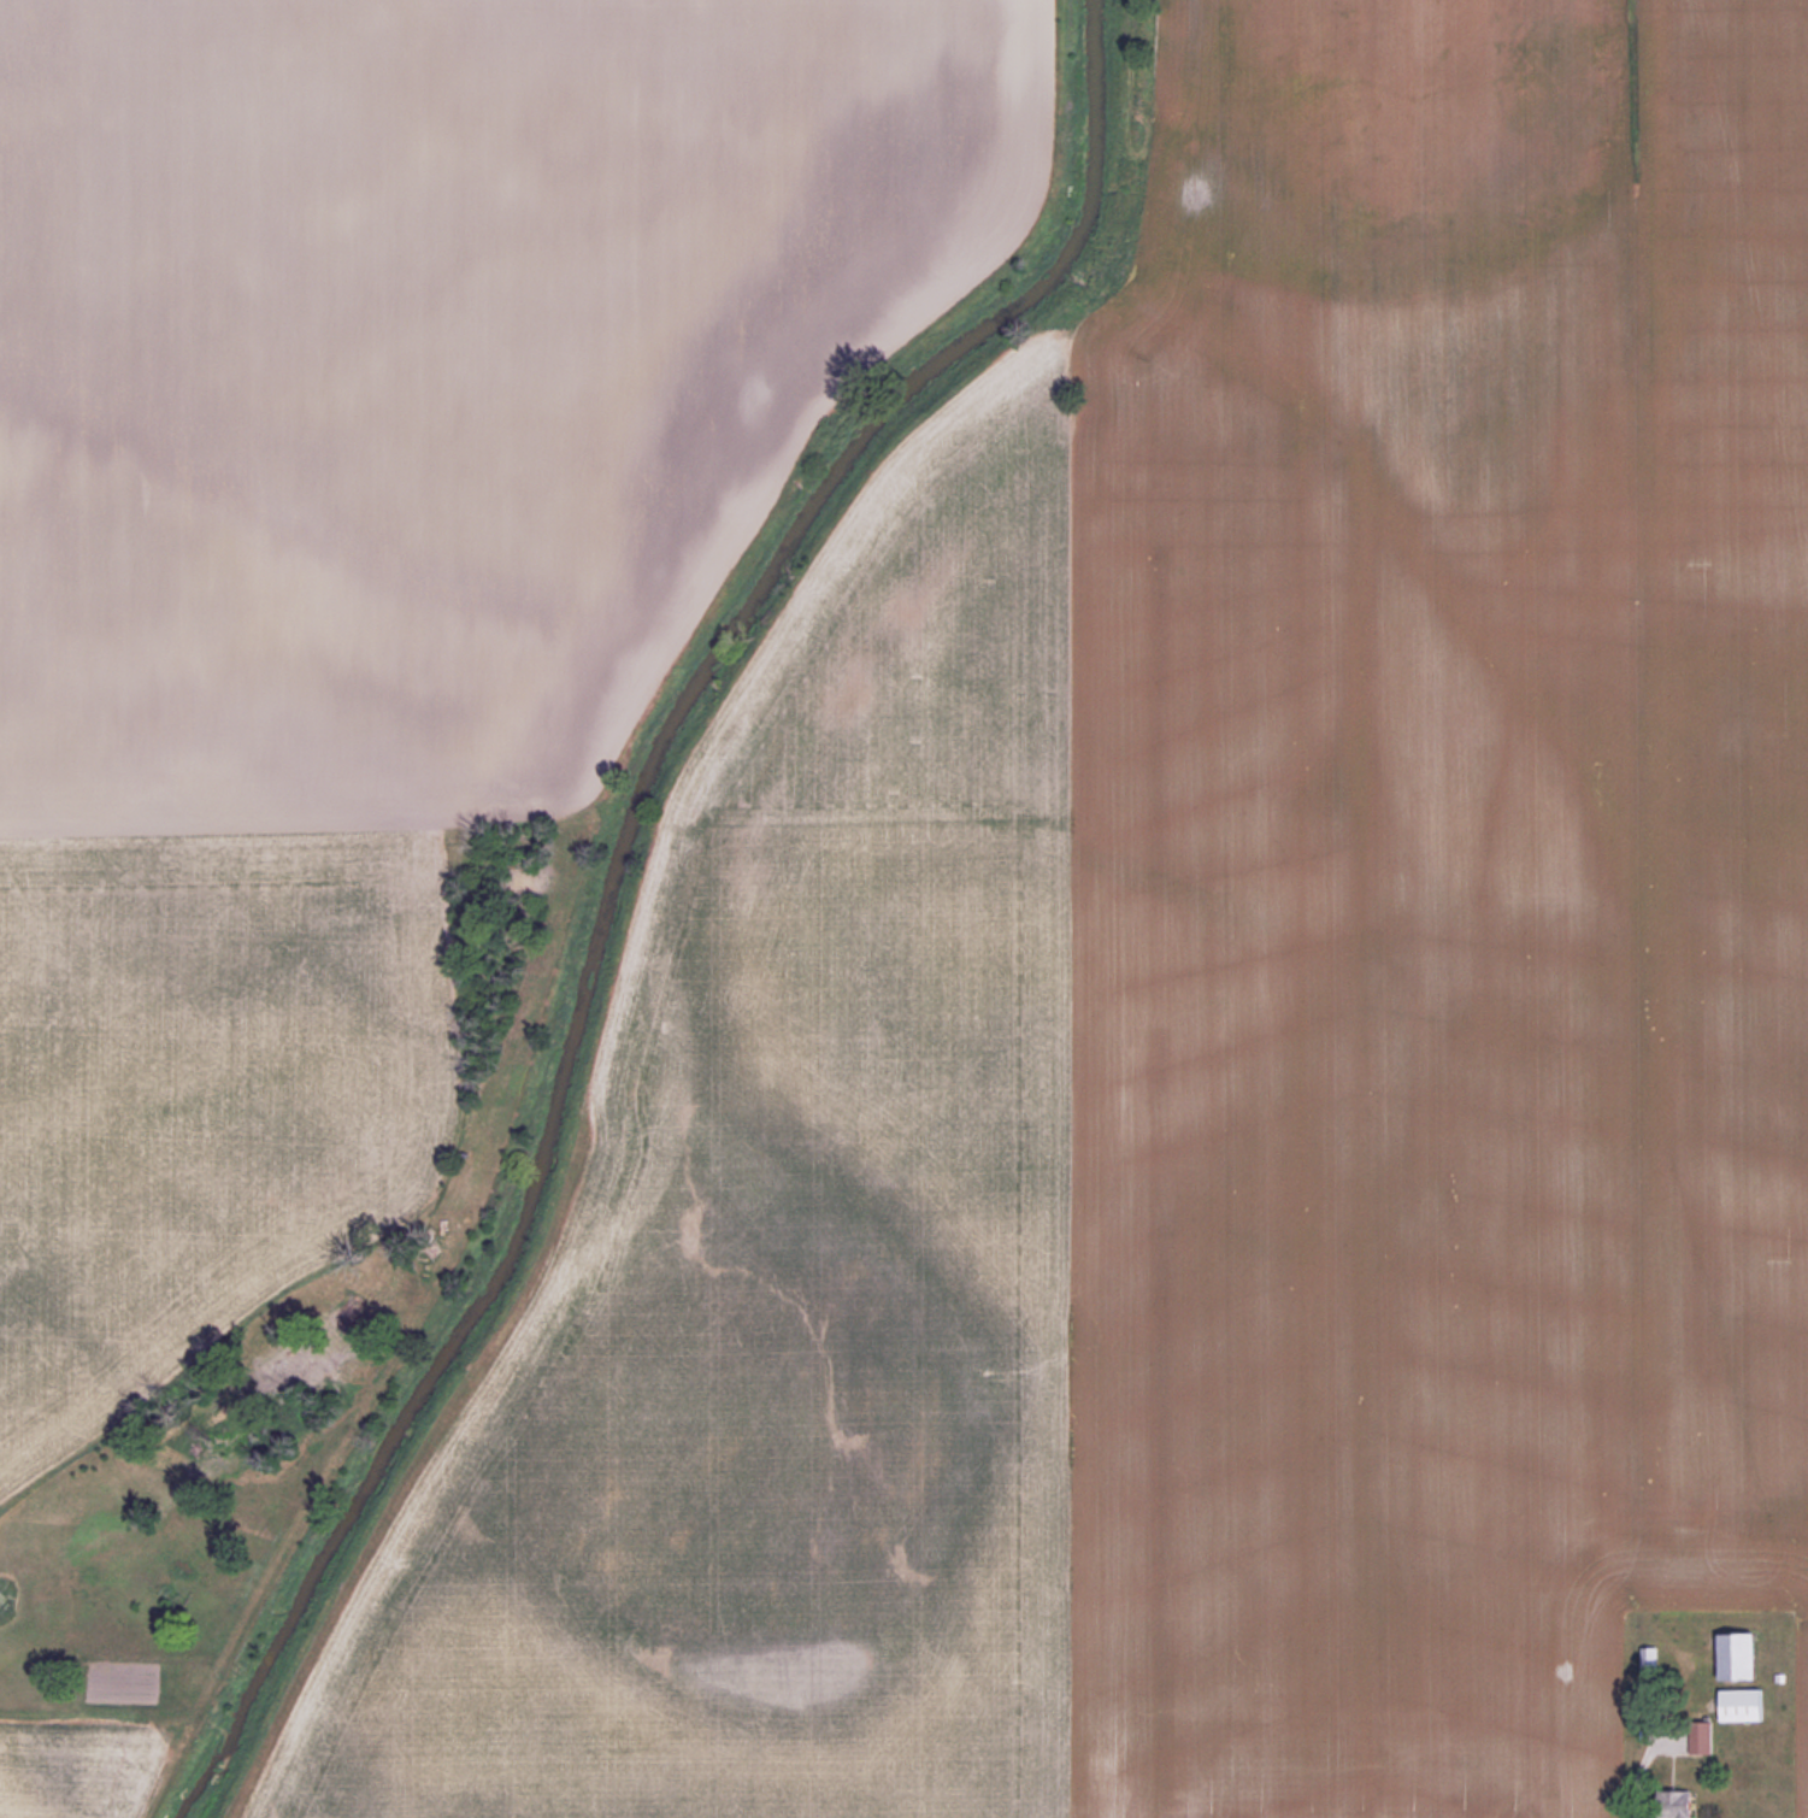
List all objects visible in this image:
building: (1743, 1657)
building: (1744, 1705)
building: (1702, 1737)
road: (1633, 1782)
building: (1683, 1804)

